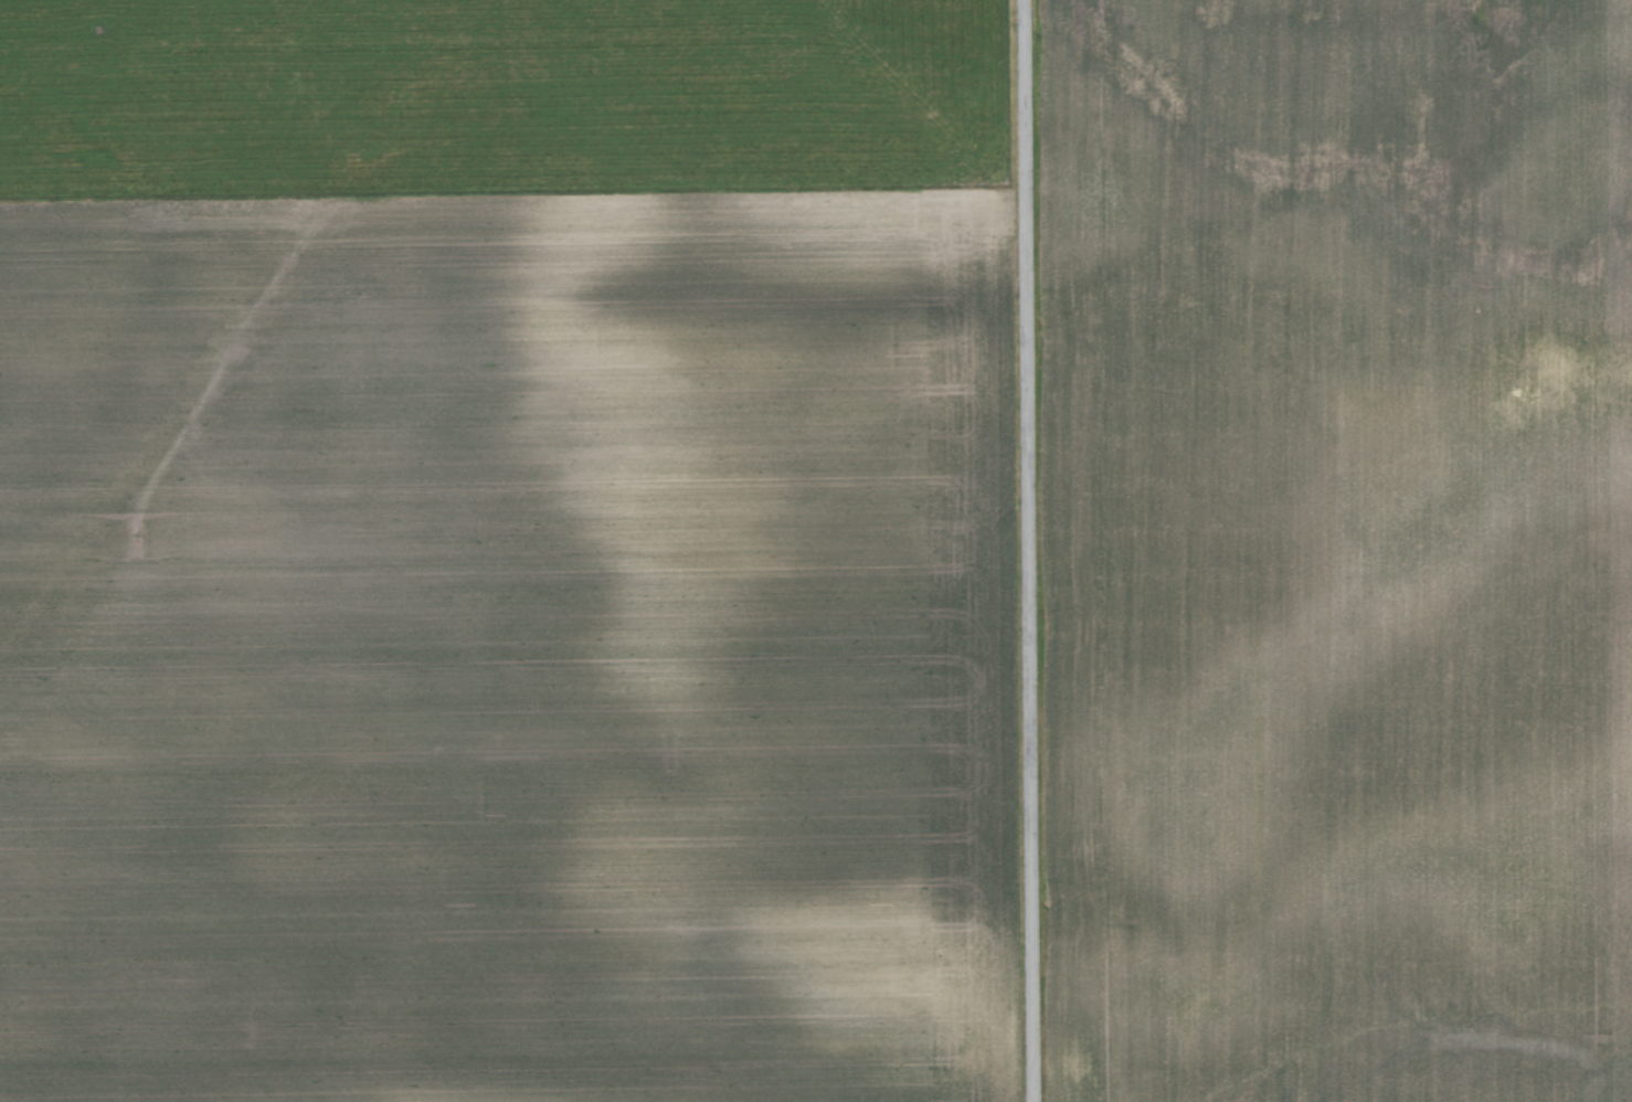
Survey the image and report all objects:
road: (1030, 551)

